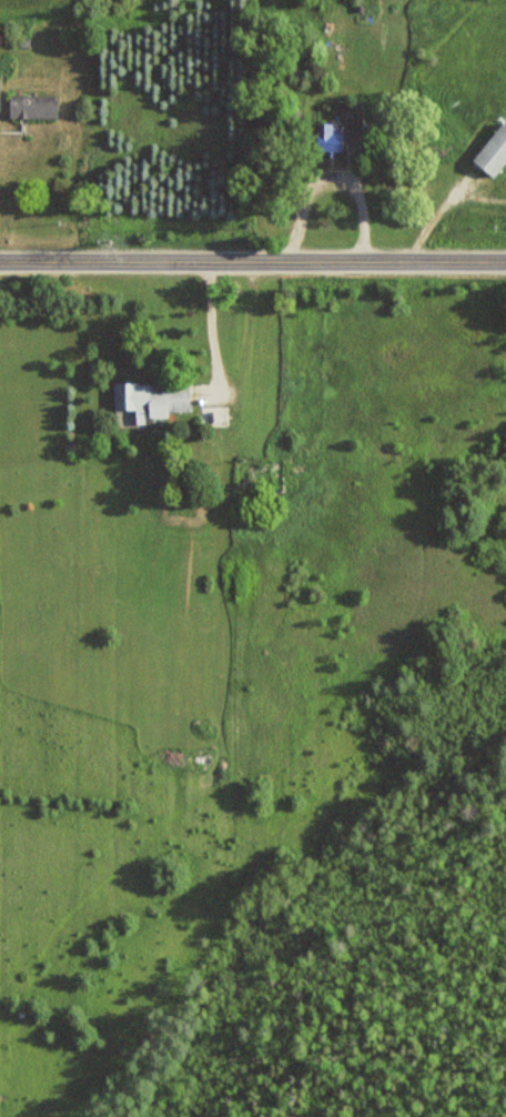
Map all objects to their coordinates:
building: (33, 107)
building: (353, 117)
building: (328, 139)
building: (493, 152)
road: (253, 255)
building: (151, 400)
building: (215, 415)

